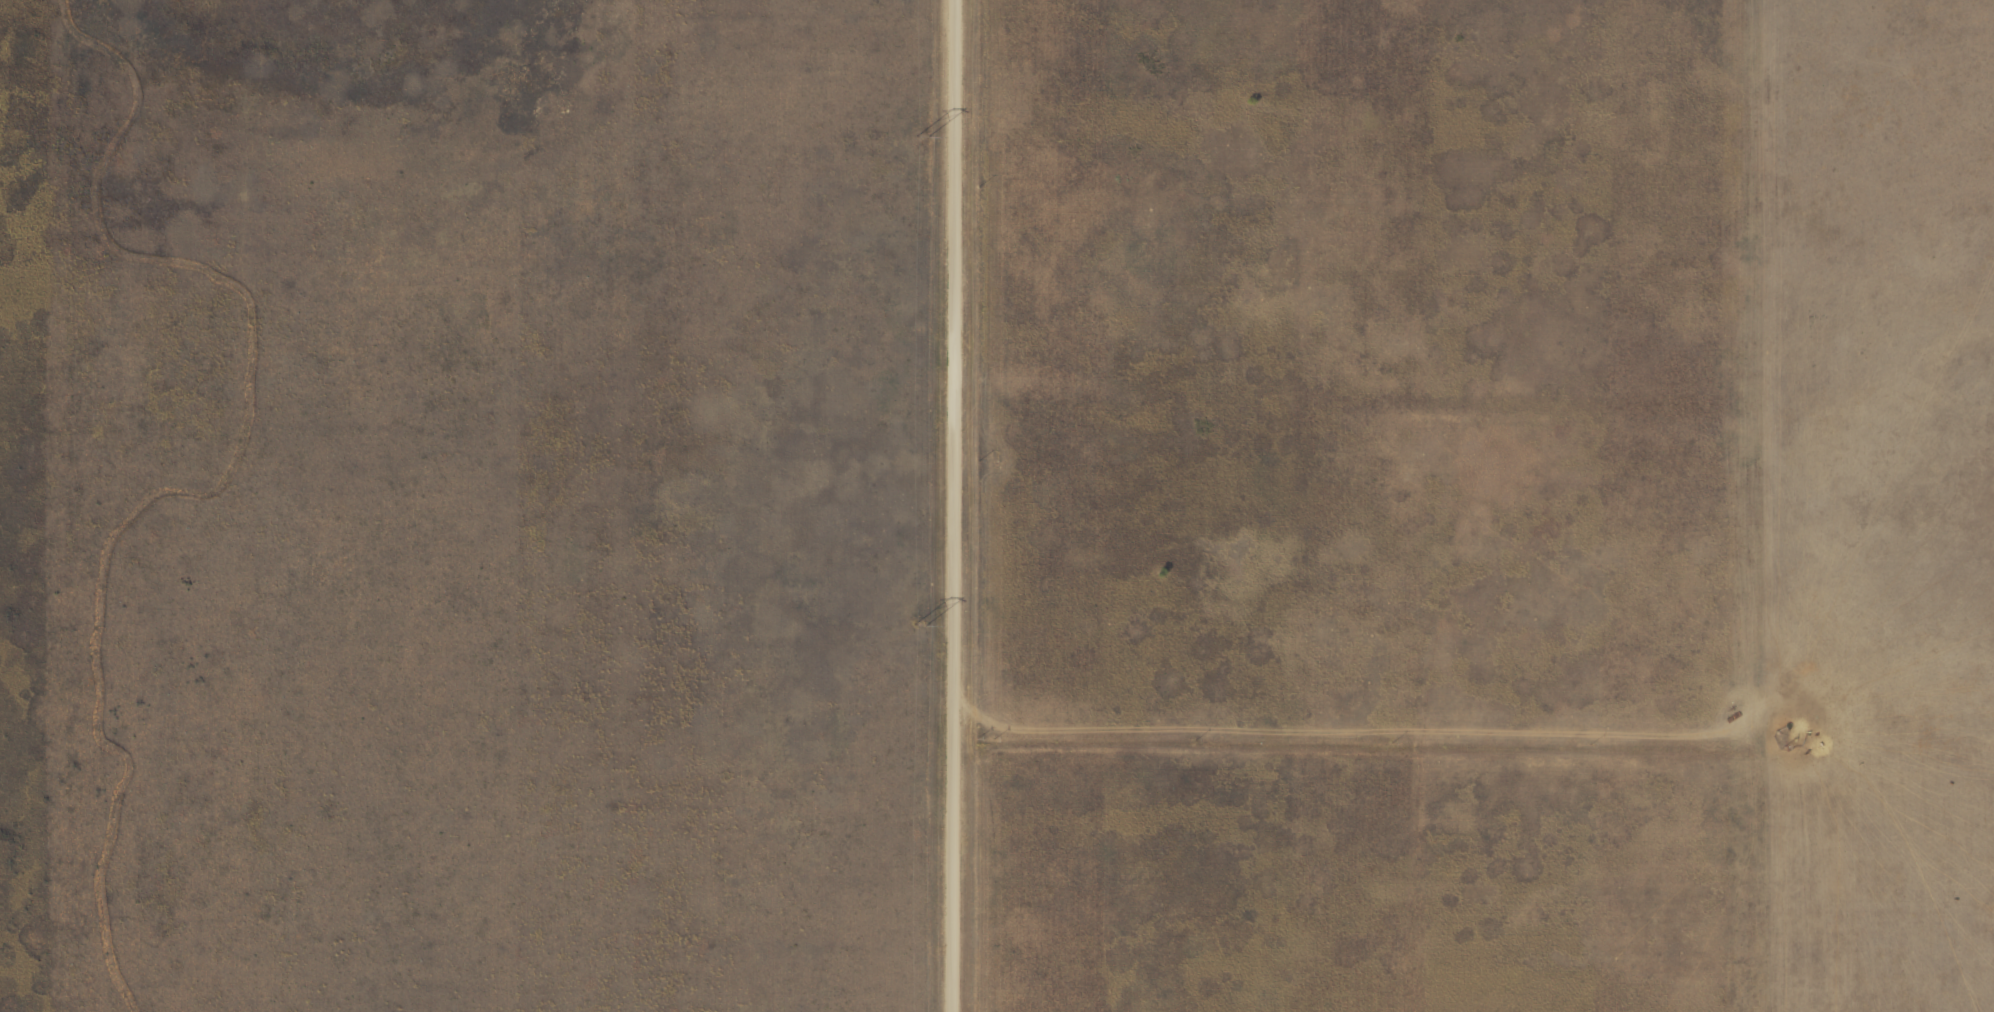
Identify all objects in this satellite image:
power tower: (917, 136)
road: (297, 149)
road: (1796, 505)
road: (974, 506)
power tower: (917, 624)
road: (1897, 758)

